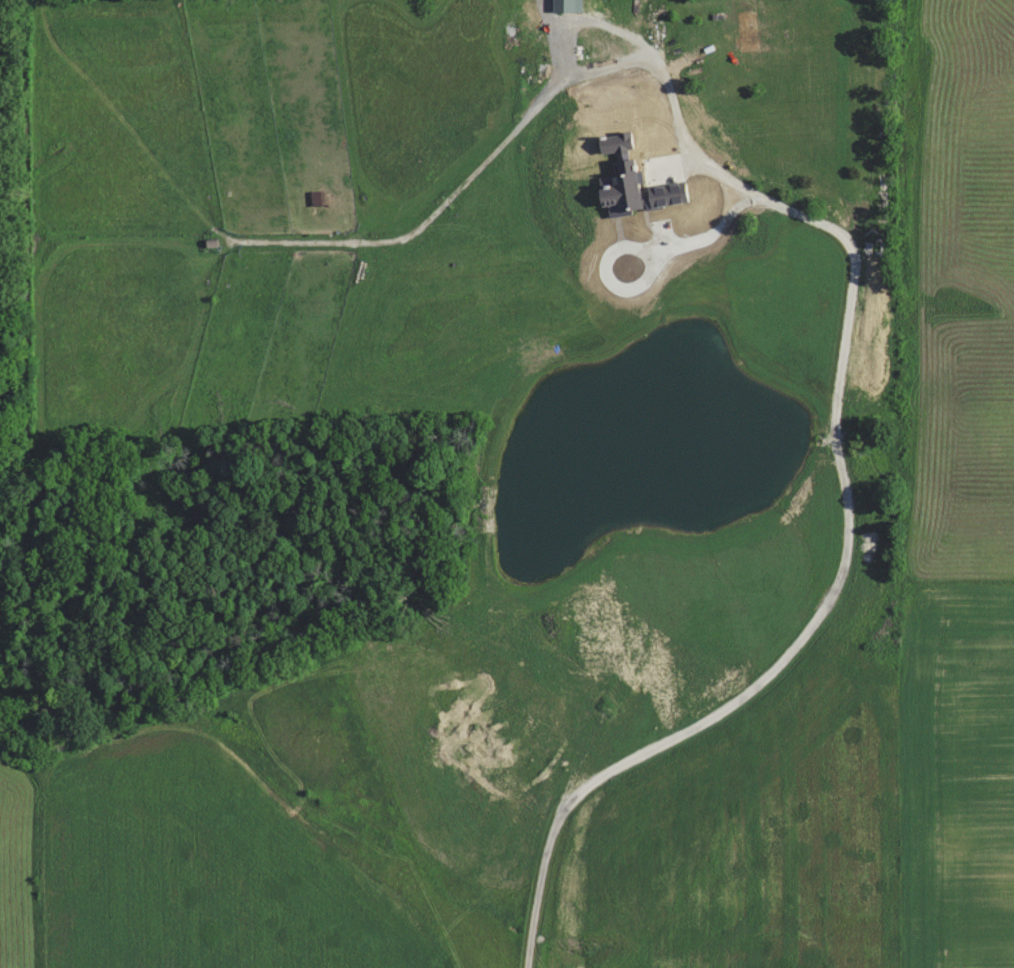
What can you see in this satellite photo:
building: (566, 5)
road: (683, 138)
building: (630, 180)
road: (614, 280)
road: (848, 562)

